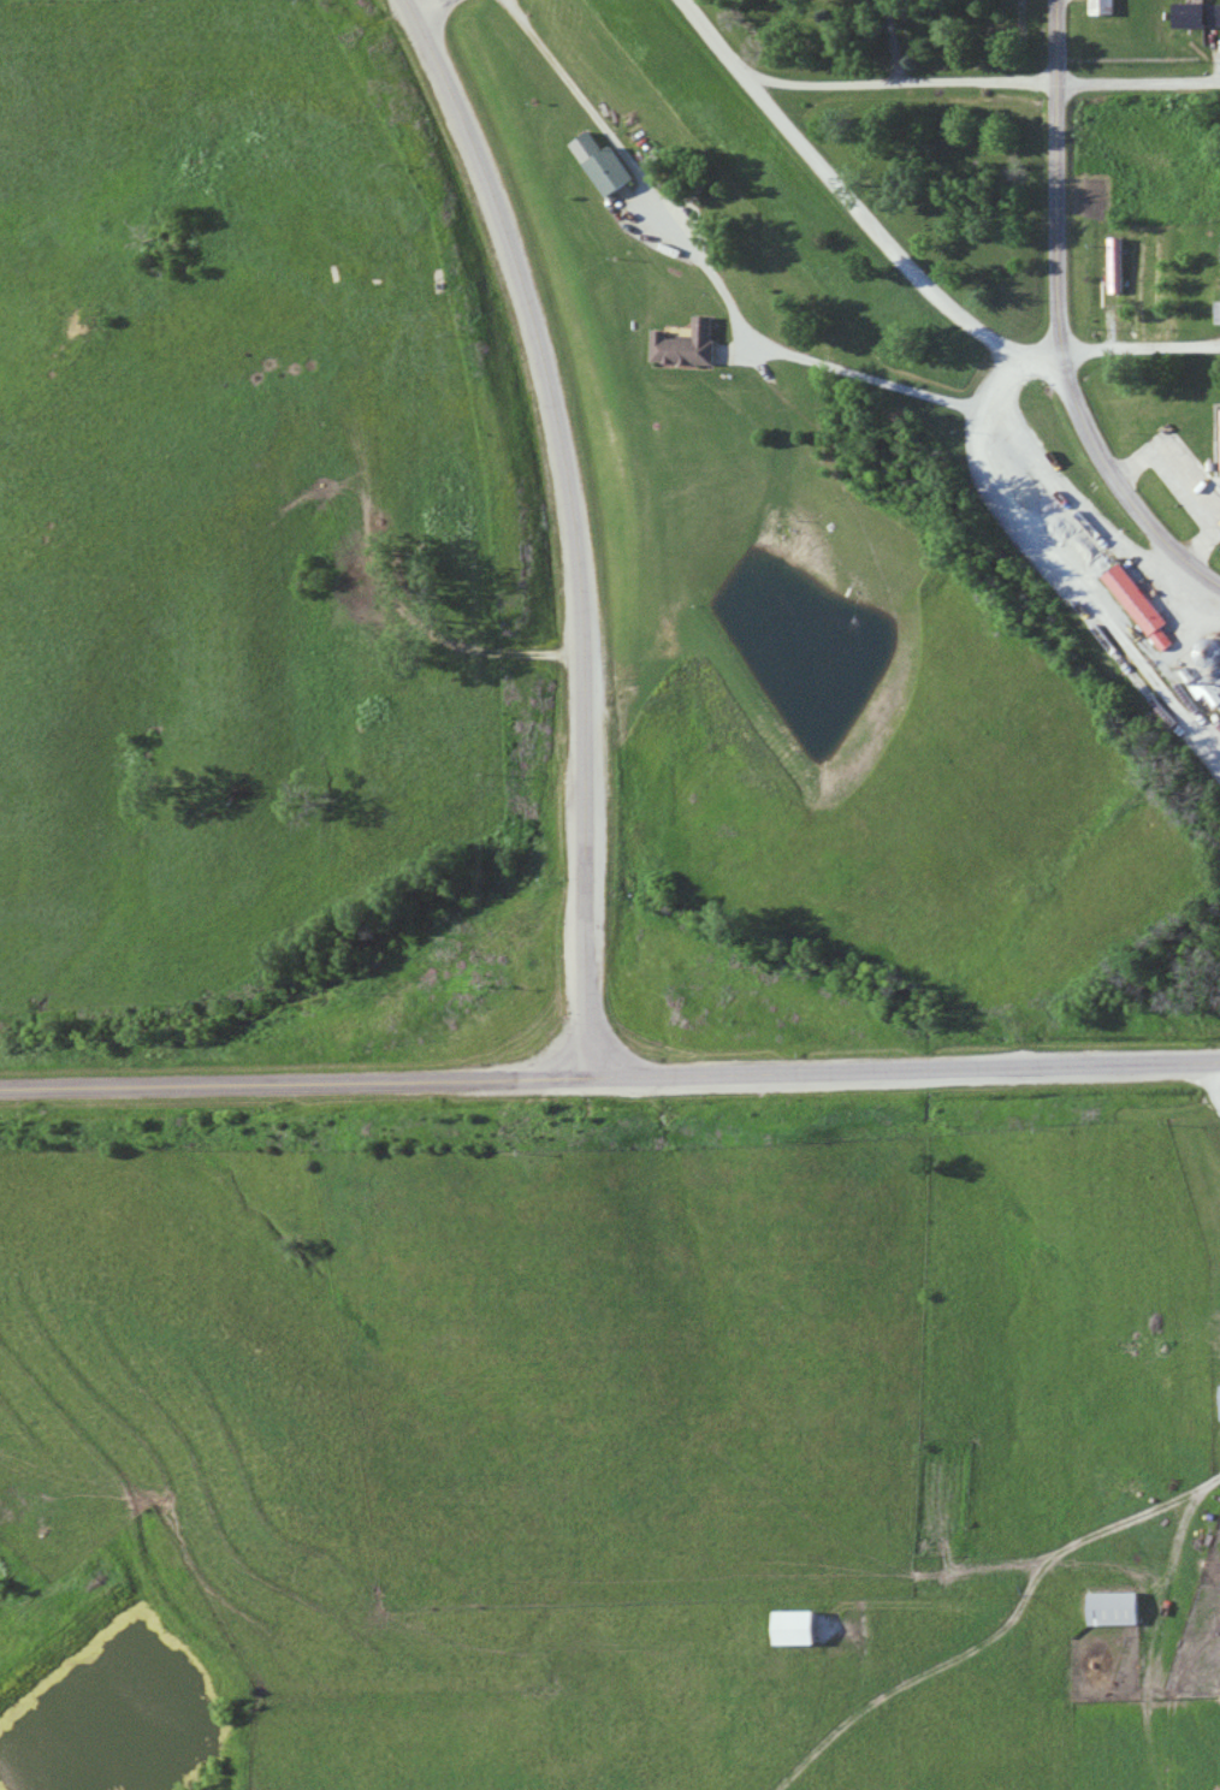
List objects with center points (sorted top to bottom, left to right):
building: (1107, 5)
road: (425, 6)
building: (1198, 14)
road: (985, 78)
road: (1056, 174)
road: (853, 205)
building: (1117, 265)
road: (1138, 345)
road: (765, 364)
road: (1118, 484)
road: (568, 526)
road: (1064, 559)
building: (1138, 601)
road: (902, 1071)
road: (291, 1085)
building: (1118, 1608)

